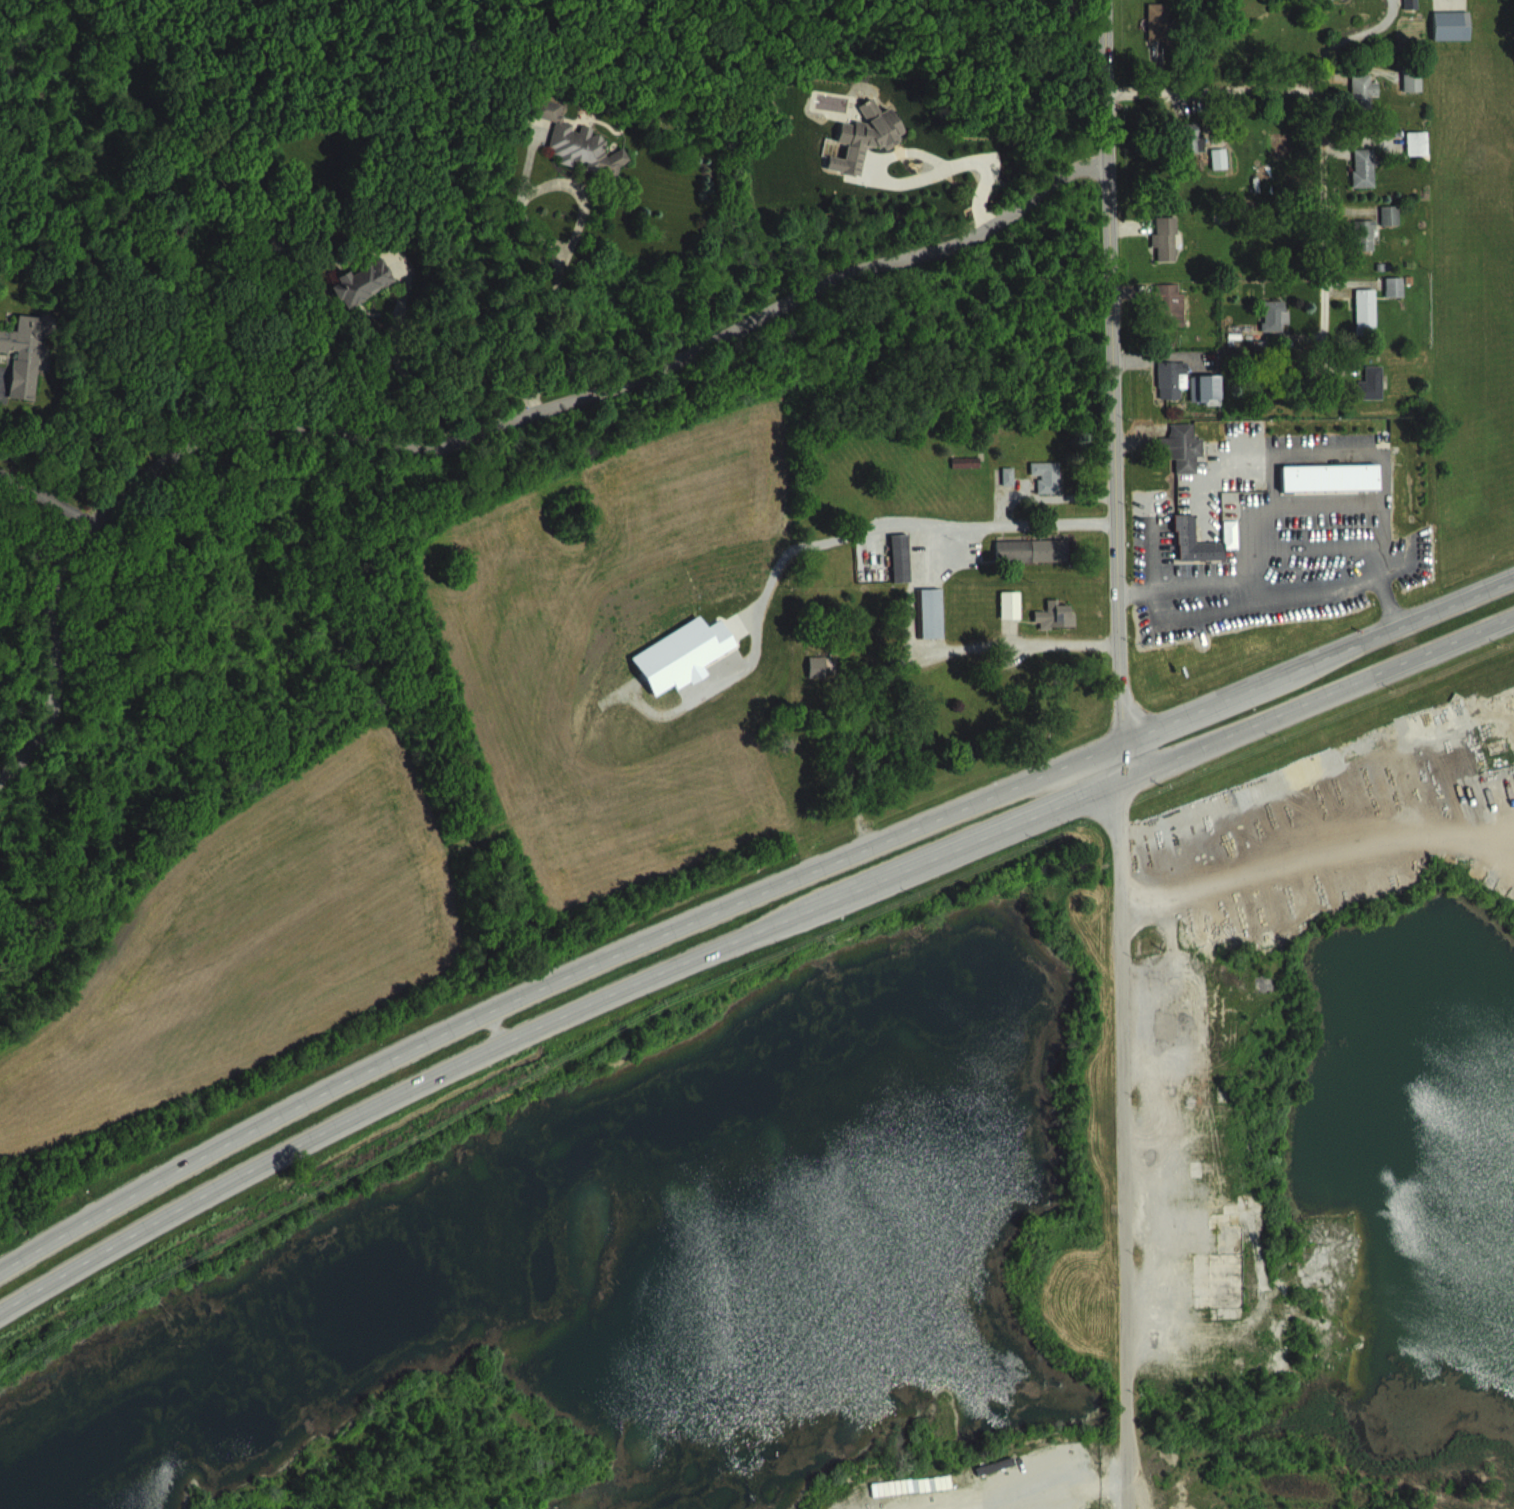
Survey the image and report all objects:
building: (1339, 5)
road: (1343, 36)
building: (1166, 37)
building: (1459, 41)
building: (1420, 97)
building: (1371, 104)
road: (1320, 121)
building: (562, 142)
building: (871, 154)
building: (1198, 154)
building: (1425, 159)
road: (980, 161)
building: (1226, 174)
building: (1371, 183)
building: (1398, 231)
building: (1372, 251)
building: (1172, 255)
building: (361, 279)
building: (1402, 302)
road: (542, 316)
building: (1178, 322)
building: (1374, 327)
building: (1283, 333)
building: (26, 349)
road: (406, 373)
building: (1179, 395)
building: (1379, 399)
building: (1212, 404)
road: (469, 435)
building: (1181, 446)
building: (1190, 464)
building: (1328, 477)
building: (971, 478)
building: (1054, 488)
building: (1015, 492)
building: (1337, 492)
road: (46, 496)
road: (962, 533)
building: (1195, 540)
building: (1029, 548)
building: (898, 555)
road: (1380, 571)
road: (1385, 596)
building: (1008, 603)
building: (928, 611)
building: (1053, 614)
road: (1318, 649)
road: (911, 663)
building: (816, 665)
road: (1317, 699)
road: (1121, 754)
road: (553, 979)
road: (551, 1029)

